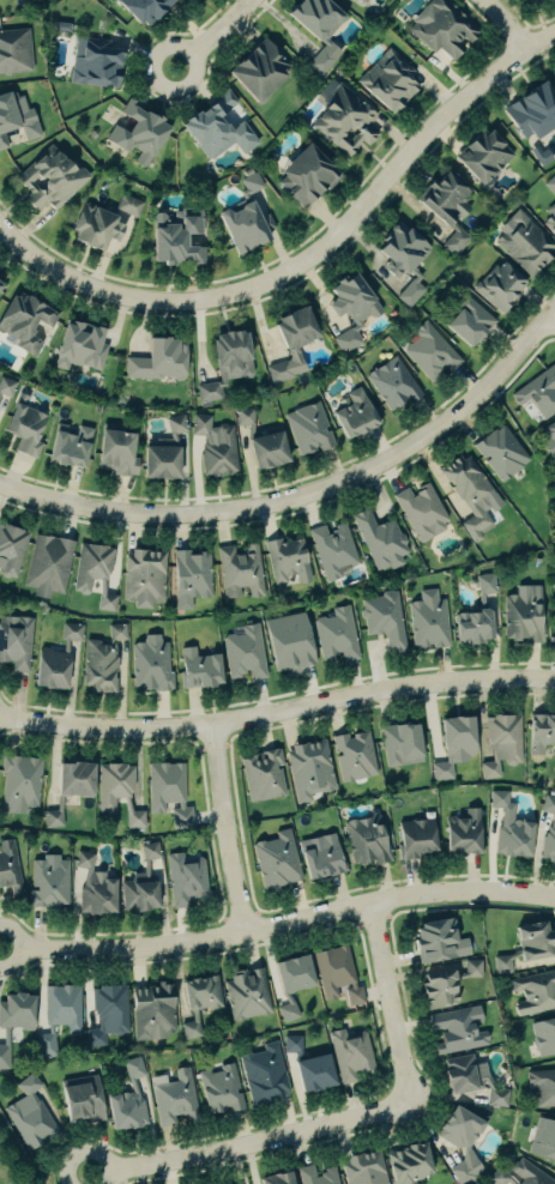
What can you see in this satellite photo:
building: (361, 0)
building: (141, 8)
road: (505, 25)
road: (221, 26)
building: (441, 28)
building: (14, 50)
building: (92, 62)
building: (257, 70)
building: (387, 81)
road: (182, 85)
building: (531, 110)
building: (16, 117)
building: (343, 117)
building: (215, 128)
building: (137, 133)
building: (481, 156)
building: (304, 174)
building: (49, 179)
building: (251, 185)
building: (550, 185)
building: (444, 197)
building: (127, 205)
road: (362, 206)
building: (549, 222)
building: (245, 225)
building: (92, 228)
building: (174, 236)
building: (454, 242)
building: (523, 243)
building: (397, 250)
road: (60, 272)
building: (499, 285)
building: (349, 308)
building: (24, 322)
building: (467, 322)
building: (290, 342)
building: (78, 346)
building: (430, 352)
building: (157, 361)
building: (225, 363)
building: (392, 383)
building: (6, 389)
building: (537, 393)
building: (354, 413)
building: (308, 428)
building: (23, 430)
building: (549, 439)
building: (260, 441)
building: (67, 446)
building: (215, 446)
building: (500, 452)
building: (114, 453)
building: (163, 454)
building: (469, 494)
road: (307, 496)
building: (422, 512)
building: (380, 542)
building: (11, 550)
building: (333, 550)
building: (288, 561)
building: (48, 566)
building: (91, 566)
building: (240, 572)
building: (143, 578)
building: (189, 578)
building: (104, 599)
building: (521, 614)
building: (473, 615)
building: (384, 620)
building: (427, 621)
building: (336, 636)
building: (554, 641)
building: (16, 642)
building: (286, 642)
building: (245, 653)
building: (54, 660)
building: (101, 660)
building: (150, 664)
building: (198, 669)
road: (278, 714)
building: (539, 733)
building: (400, 744)
building: (500, 744)
building: (452, 745)
building: (354, 756)
building: (308, 769)
building: (263, 775)
building: (71, 779)
building: (19, 785)
building: (114, 785)
building: (168, 793)
building: (53, 818)
building: (134, 820)
building: (508, 828)
road: (227, 829)
building: (548, 829)
building: (463, 833)
building: (412, 838)
building: (366, 841)
building: (318, 857)
building: (276, 860)
building: (8, 866)
building: (185, 881)
building: (48, 882)
building: (140, 883)
building: (91, 888)
road: (278, 924)
building: (436, 942)
building: (524, 947)
building: (290, 974)
building: (337, 975)
building: (445, 983)
building: (535, 993)
building: (247, 995)
building: (198, 1002)
road: (391, 1002)
building: (61, 1011)
building: (132, 1013)
building: (288, 1013)
building: (13, 1020)
building: (456, 1031)
building: (543, 1037)
building: (291, 1044)
building: (350, 1055)
building: (310, 1074)
building: (263, 1075)
building: (463, 1075)
building: (541, 1088)
building: (219, 1089)
building: (174, 1098)
building: (497, 1098)
building: (127, 1100)
building: (80, 1103)
building: (30, 1114)
building: (543, 1140)
road: (251, 1141)
building: (460, 1143)
building: (406, 1164)
building: (363, 1168)
building: (520, 1174)
building: (316, 1176)
building: (275, 1179)

